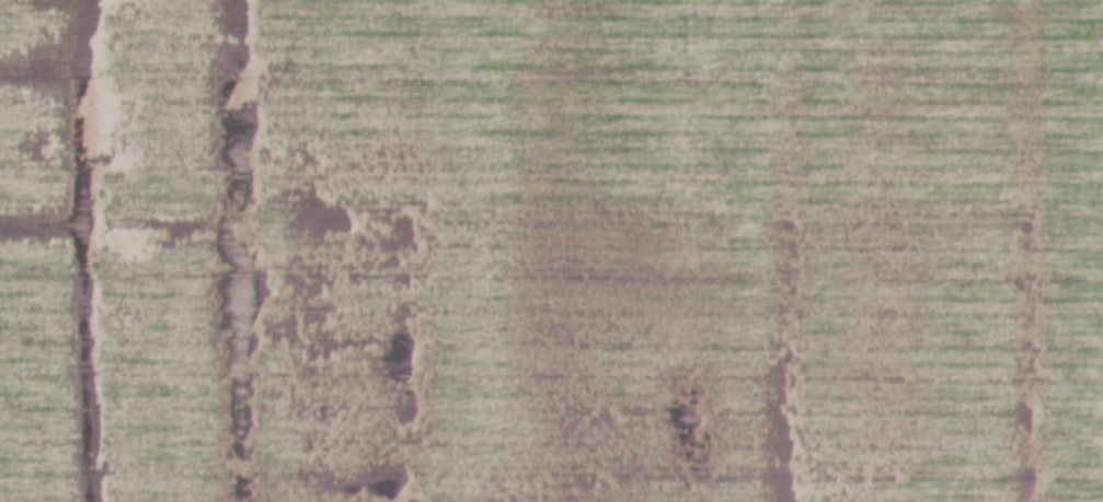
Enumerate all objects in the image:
crop: (551, 250)

